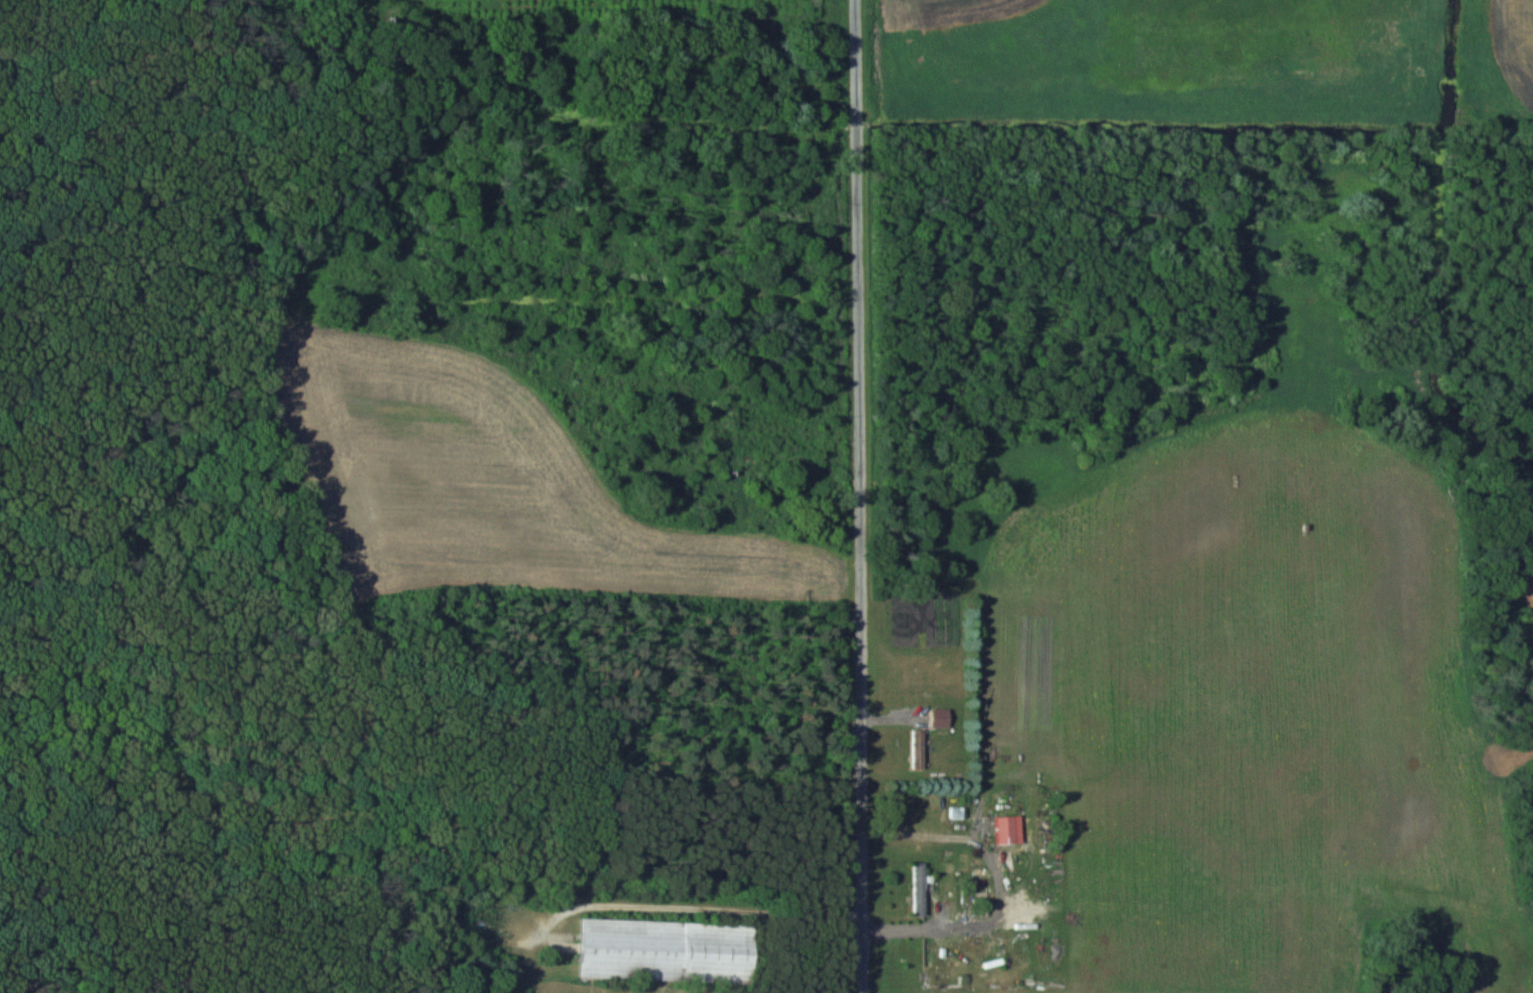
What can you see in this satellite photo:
road: (859, 496)
building: (938, 717)
building: (916, 749)
building: (1007, 829)
building: (918, 889)
road: (695, 908)
building: (664, 951)

